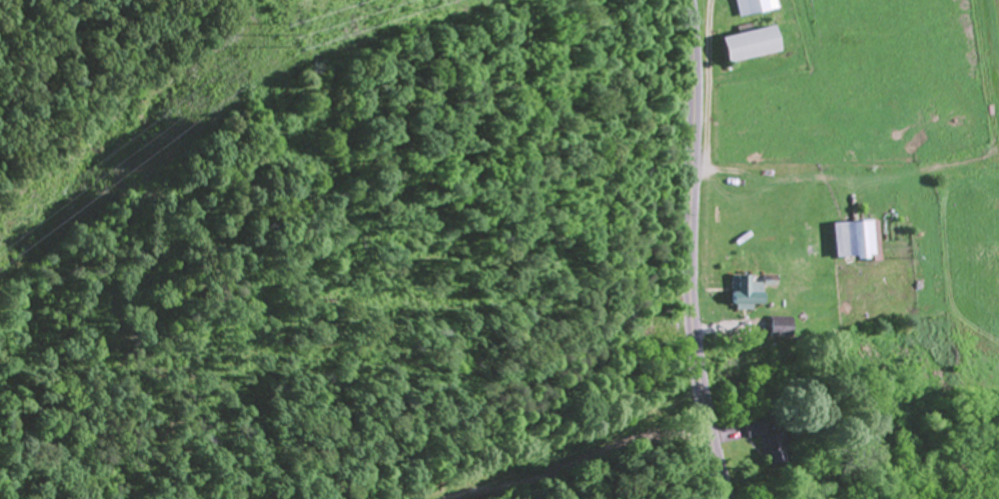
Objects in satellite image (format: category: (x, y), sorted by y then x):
building: (756, 8)
building: (755, 46)
building: (856, 242)
building: (811, 244)
road: (692, 250)
building: (748, 294)
building: (779, 328)
building: (763, 443)
road: (585, 458)

